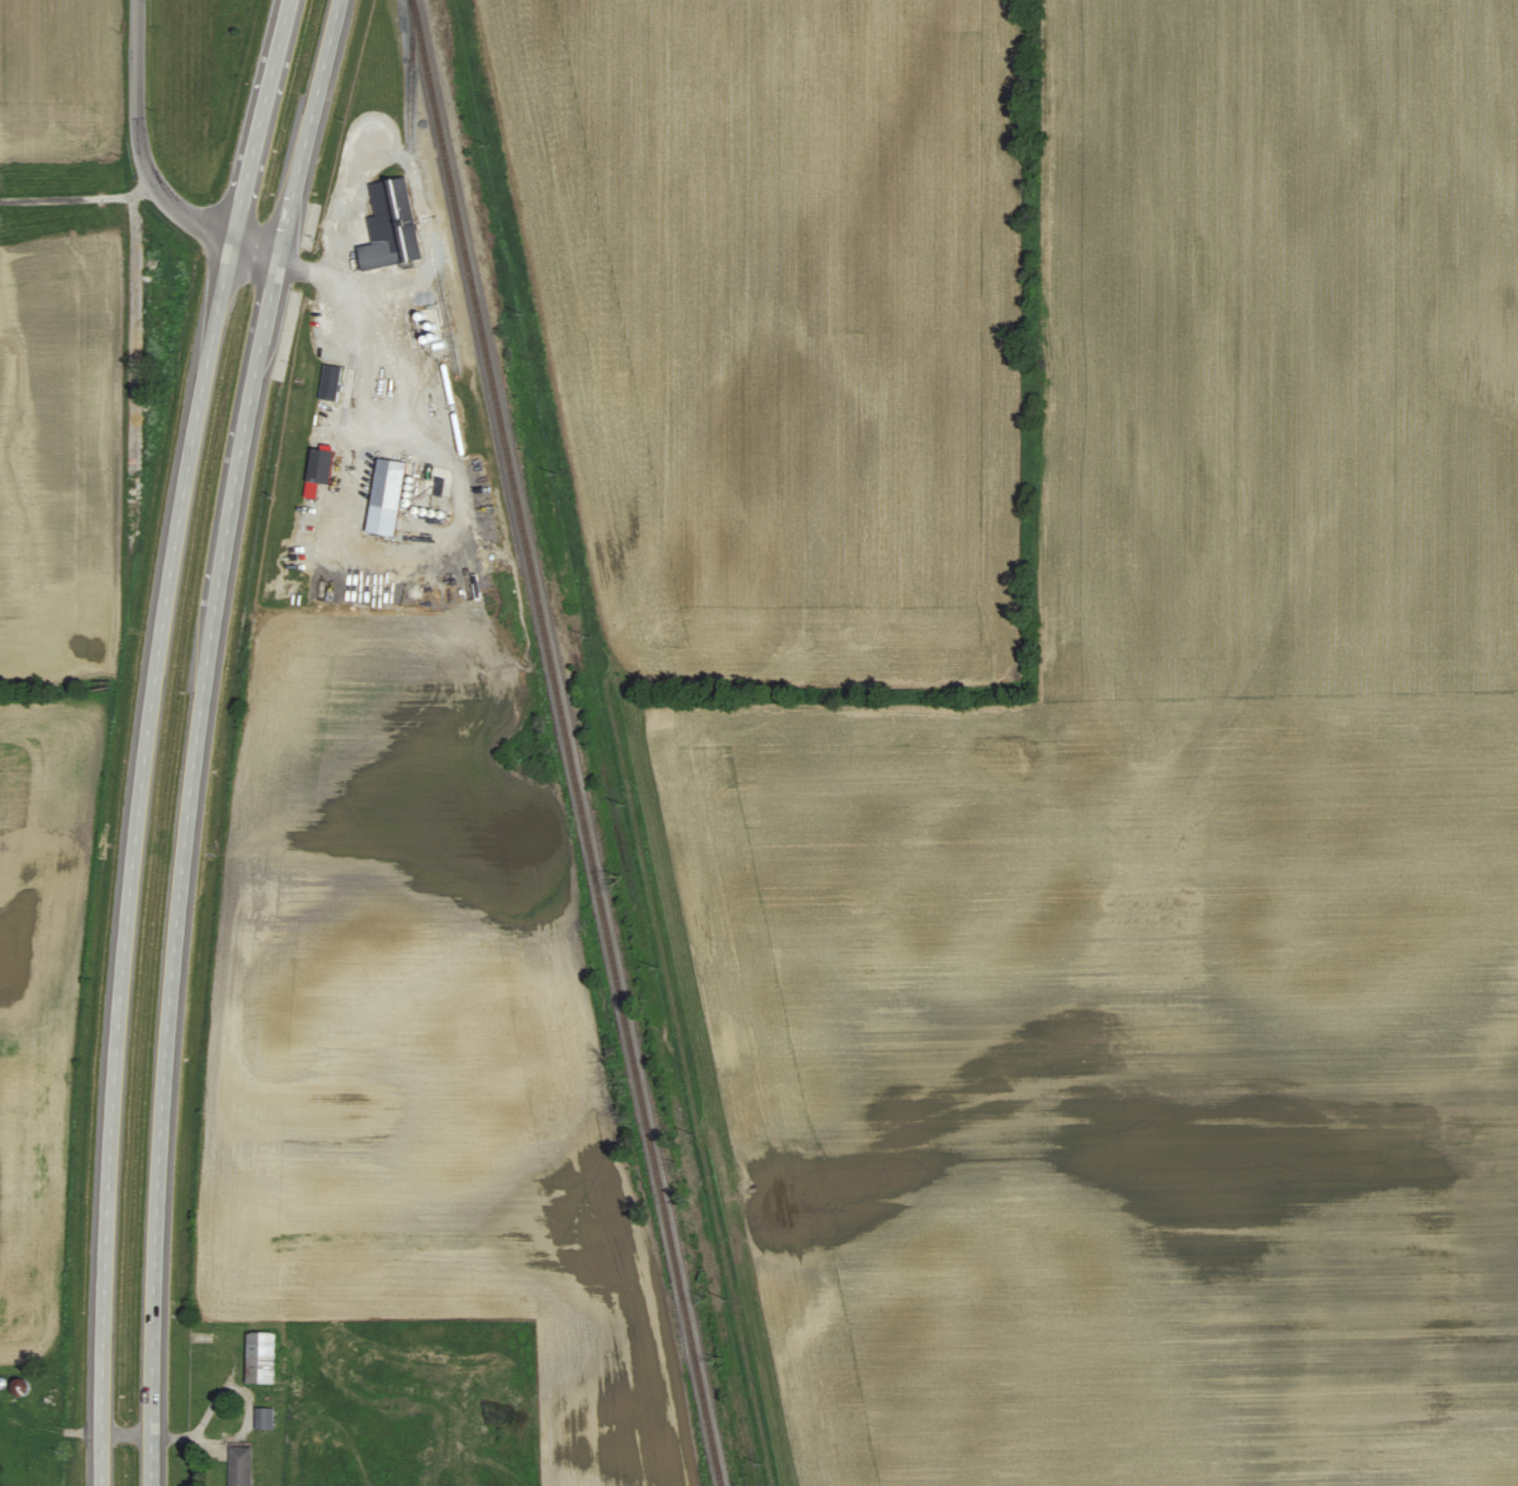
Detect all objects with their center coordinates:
road: (279, 49)
road: (329, 56)
road: (141, 146)
road: (76, 196)
building: (393, 228)
road: (259, 256)
road: (368, 327)
building: (332, 383)
building: (321, 472)
building: (389, 498)
railway: (566, 743)
road: (142, 787)
road: (193, 794)
building: (262, 1358)
building: (266, 1419)
road: (149, 1434)
building: (242, 1467)

